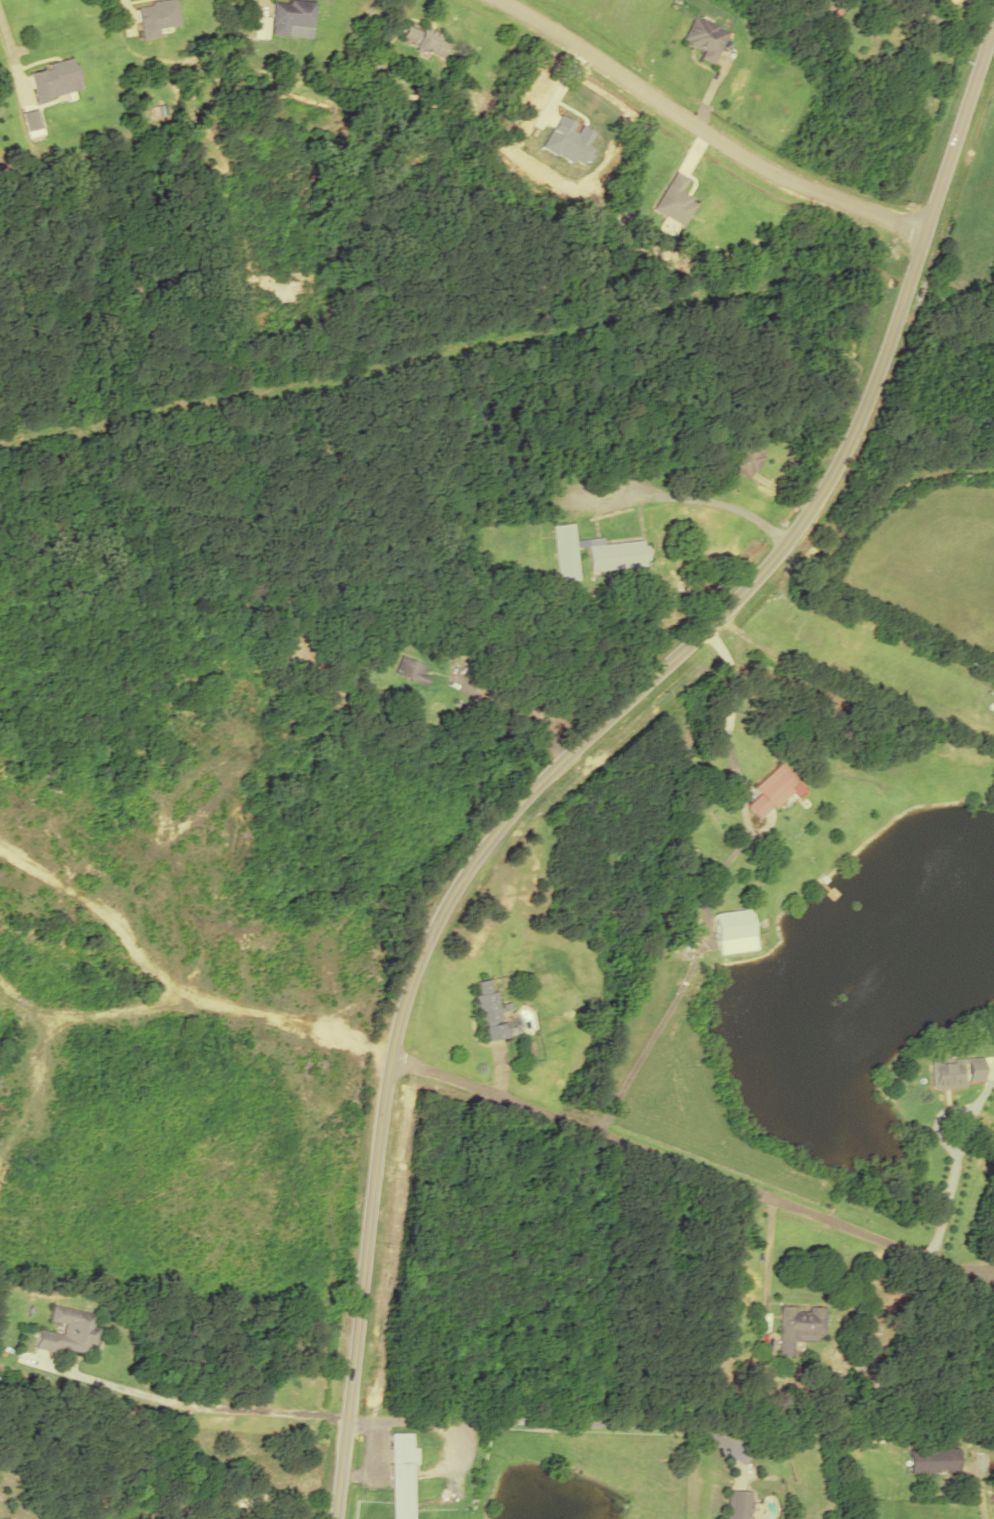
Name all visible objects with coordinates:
building: (288, 14)
building: (154, 16)
building: (704, 37)
building: (421, 38)
building: (52, 79)
road: (697, 132)
building: (746, 457)
building: (562, 551)
building: (613, 554)
building: (410, 668)
road: (585, 738)
building: (771, 789)
building: (732, 926)
building: (487, 1009)
building: (952, 1072)
road: (678, 1164)
building: (800, 1326)
building: (67, 1331)
building: (933, 1460)
building: (400, 1474)
building: (736, 1504)

